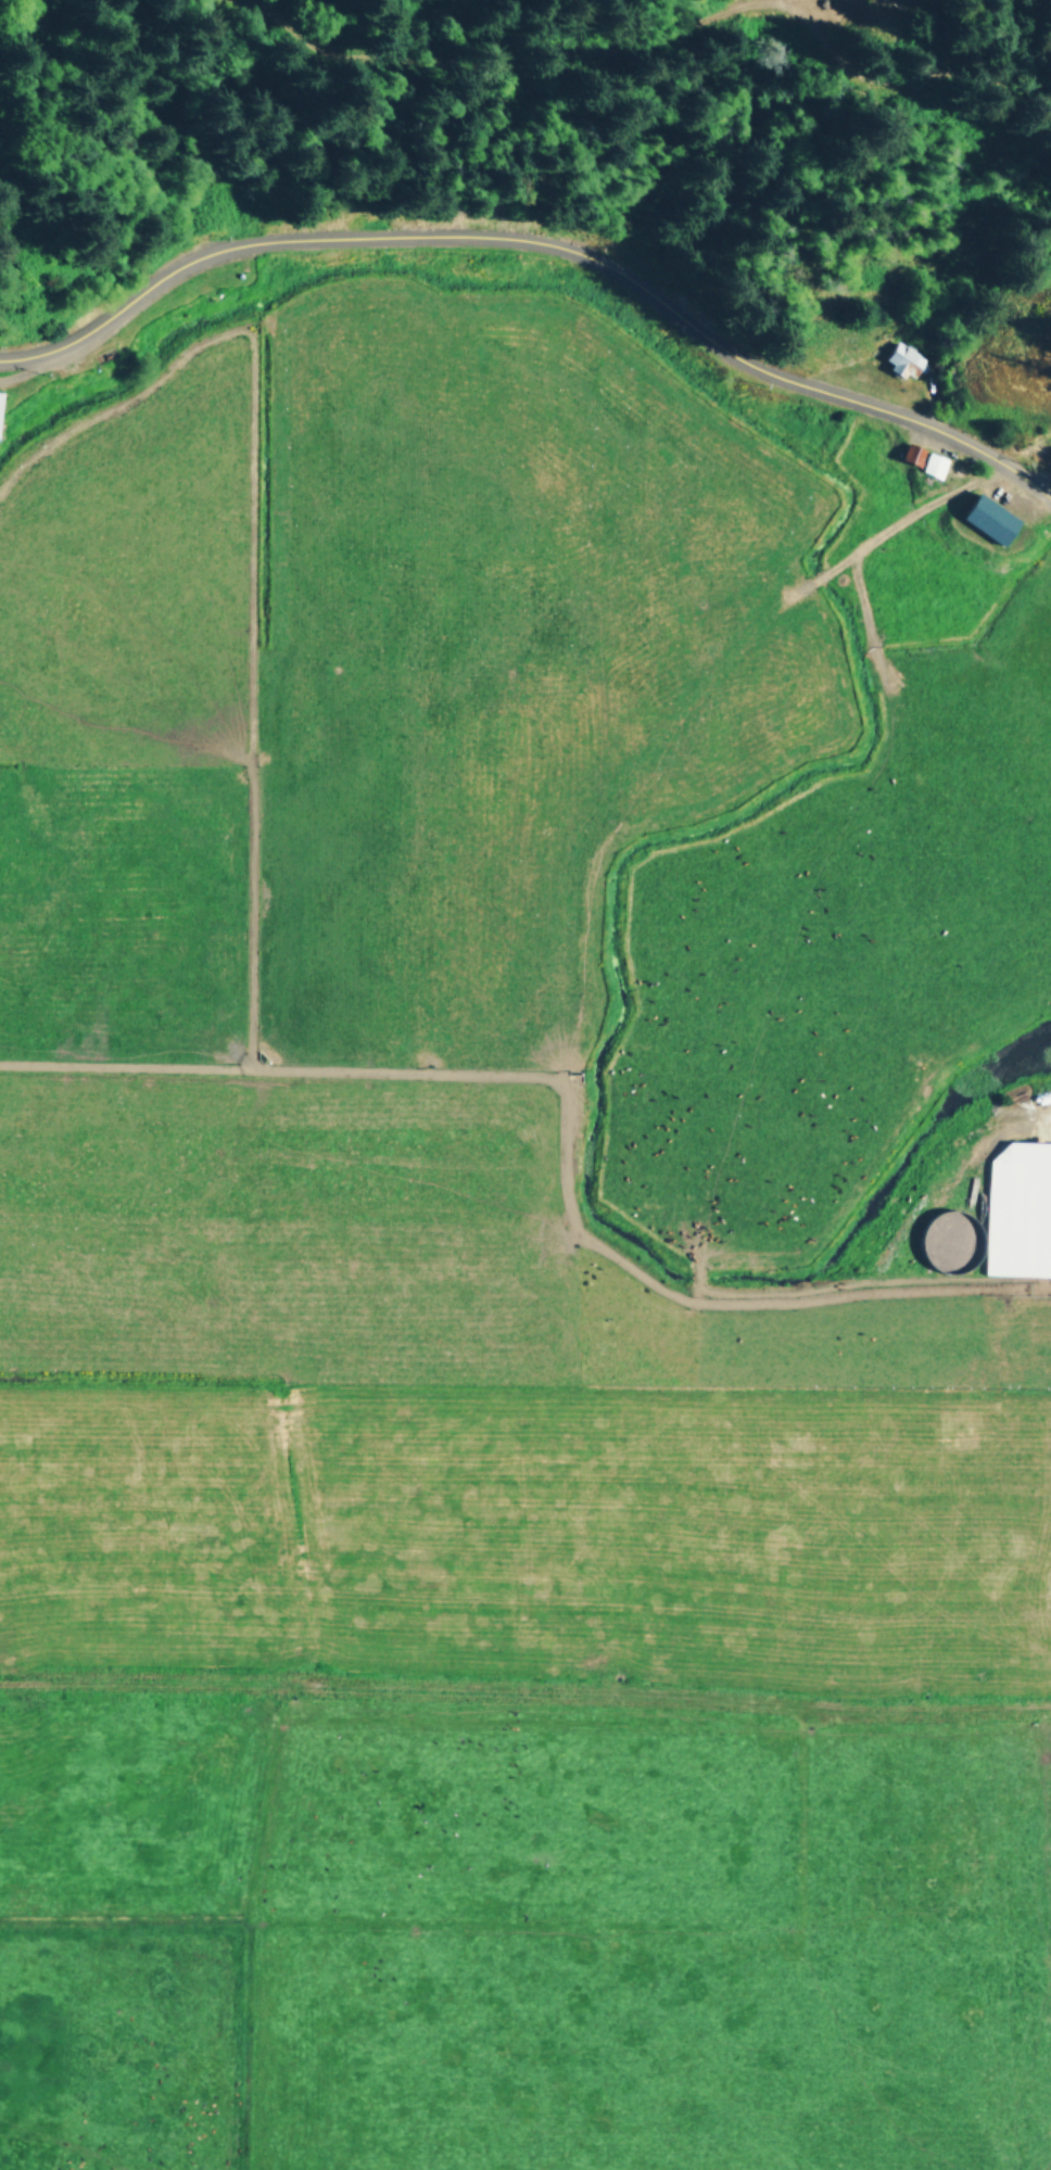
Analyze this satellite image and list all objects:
road: (542, 244)
building: (902, 358)
building: (0, 398)
building: (991, 519)
building: (1018, 1209)
crop: (516, 1258)

